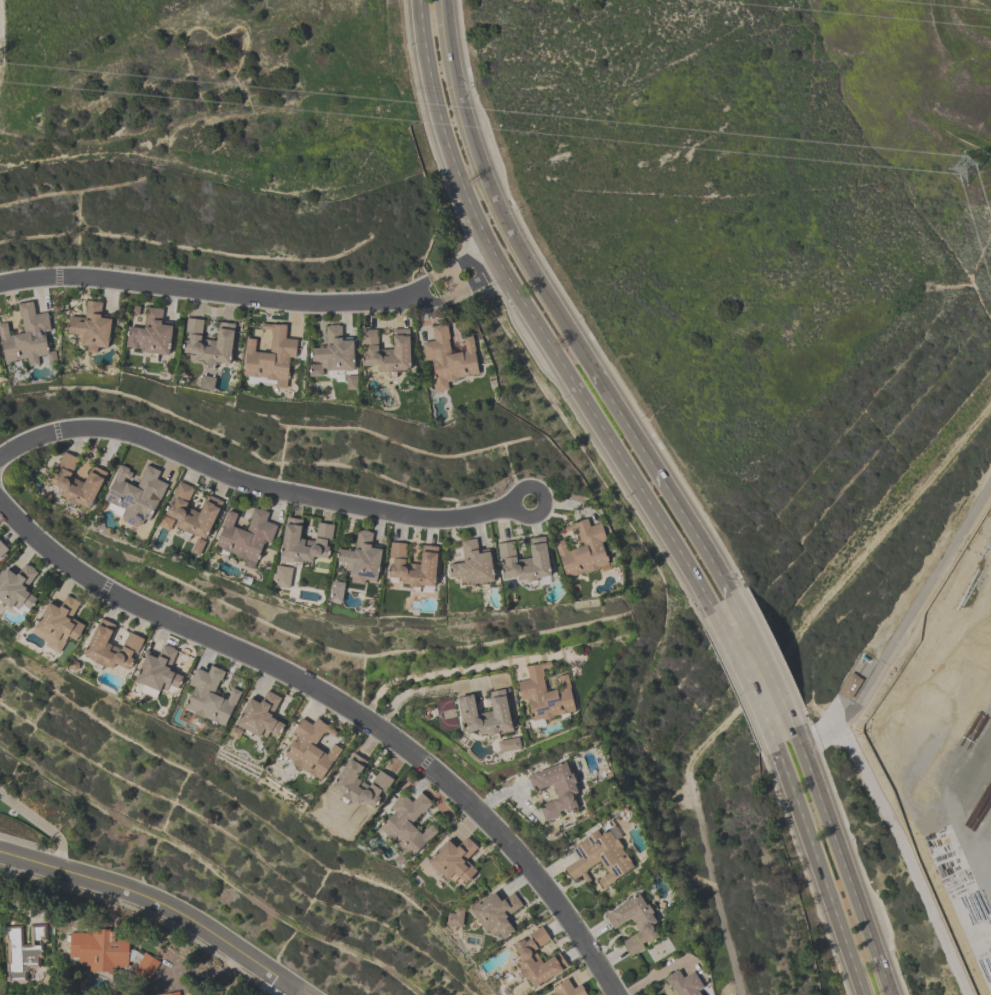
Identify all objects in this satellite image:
power tower: (966, 165)
road: (479, 266)
road: (234, 295)
building: (90, 327)
building: (151, 334)
building: (27, 337)
building: (209, 342)
building: (386, 351)
building: (332, 353)
building: (270, 356)
building: (448, 358)
building: (351, 382)
building: (207, 383)
building: (77, 482)
road: (258, 487)
road: (642, 493)
road: (668, 493)
building: (136, 494)
building: (192, 511)
building: (165, 523)
building: (246, 536)
building: (304, 541)
building: (198, 547)
building: (2, 548)
building: (582, 549)
building: (361, 559)
building: (525, 561)
building: (472, 565)
building: (413, 566)
building: (282, 577)
building: (17, 588)
road: (903, 623)
building: (58, 624)
building: (111, 647)
building: (157, 672)
road: (435, 673)
road: (410, 693)
building: (545, 694)
building: (210, 697)
road: (342, 706)
building: (486, 715)
building: (260, 716)
building: (235, 733)
building: (509, 745)
building: (311, 748)
building: (360, 783)
building: (555, 790)
building: (407, 824)
road: (42, 825)
building: (598, 858)
building: (398, 860)
building: (454, 861)
road: (154, 910)
building: (495, 913)
building: (454, 918)
building: (634, 924)
building: (98, 950)
building: (23, 951)
building: (536, 960)
building: (145, 966)
building: (683, 983)
building: (567, 989)
building: (173, 993)

